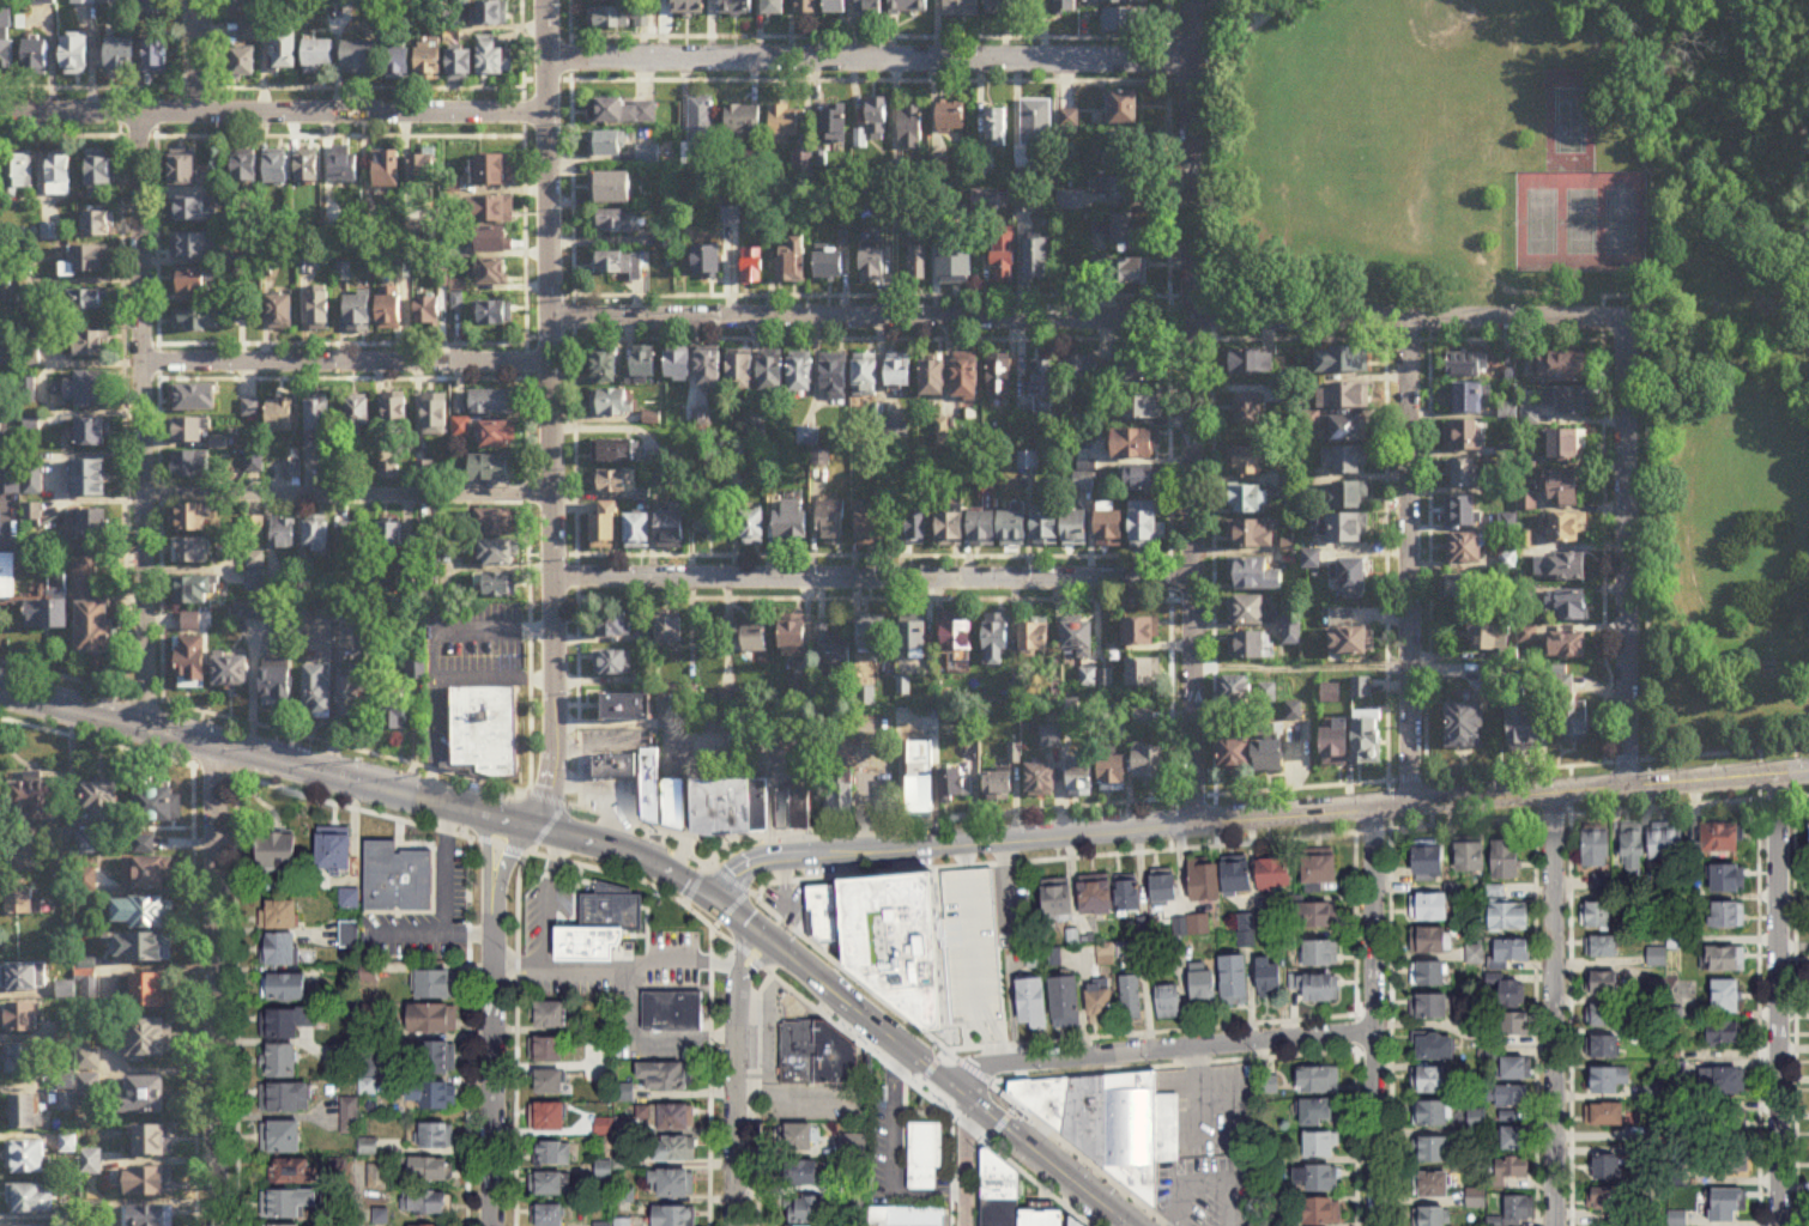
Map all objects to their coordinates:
building: (612, 1)
building: (1124, 1)
building: (41, 2)
road: (1247, 5)
building: (805, 6)
building: (834, 6)
building: (867, 6)
building: (907, 6)
building: (1065, 6)
road: (1212, 6)
building: (155, 7)
building: (686, 7)
building: (734, 7)
building: (773, 7)
building: (960, 7)
building: (998, 7)
building: (491, 13)
building: (242, 17)
building: (617, 18)
building: (1124, 20)
road: (1259, 20)
park: (1453, 23)
road: (895, 36)
building: (284, 51)
building: (6, 55)
building: (121, 55)
building: (155, 55)
building: (36, 56)
building: (77, 56)
road: (193, 56)
building: (319, 57)
building: (361, 60)
building: (494, 60)
road: (867, 60)
building: (429, 62)
building: (243, 63)
building: (398, 63)
building: (460, 66)
road: (866, 79)
building: (1125, 108)
road: (272, 111)
building: (621, 113)
building: (876, 116)
building: (950, 120)
building: (740, 122)
building: (784, 122)
park: (1568, 122)
building: (698, 123)
building: (1035, 123)
building: (833, 127)
building: (909, 127)
building: (996, 128)
road: (337, 135)
building: (857, 136)
building: (606, 145)
building: (1124, 150)
building: (799, 158)
building: (308, 169)
building: (345, 169)
building: (246, 170)
building: (277, 170)
building: (18, 171)
building: (182, 171)
building: (387, 171)
building: (491, 171)
building: (423, 172)
building: (59, 176)
building: (101, 177)
building: (612, 188)
building: (1117, 189)
building: (1070, 201)
building: (1024, 202)
building: (192, 211)
building: (489, 211)
building: (727, 213)
park: (1539, 224)
park: (1579, 224)
park: (1620, 224)
building: (97, 225)
building: (617, 226)
building: (1126, 229)
building: (840, 237)
building: (494, 241)
building: (194, 248)
building: (955, 255)
building: (1004, 255)
building: (86, 261)
building: (1037, 261)
building: (791, 262)
building: (916, 262)
building: (619, 265)
building: (703, 265)
building: (828, 265)
building: (872, 265)
park: (1568, 267)
building: (751, 268)
building: (1121, 272)
building: (492, 274)
building: (194, 283)
road: (890, 295)
road: (1623, 296)
building: (2, 301)
building: (84, 301)
building: (389, 309)
building: (319, 310)
building: (280, 312)
building: (358, 312)
building: (428, 312)
building: (494, 314)
road: (1083, 318)
building: (198, 320)
road: (1061, 338)
road: (339, 344)
building: (87, 346)
road: (343, 360)
building: (1341, 362)
building: (1250, 363)
building: (1466, 365)
building: (642, 366)
building: (679, 366)
building: (1563, 368)
building: (603, 369)
building: (1081, 369)
building: (708, 370)
building: (1137, 370)
building: (900, 371)
building: (740, 372)
building: (772, 372)
building: (801, 376)
building: (865, 377)
building: (999, 377)
road: (340, 378)
building: (835, 378)
building: (933, 378)
building: (967, 378)
building: (1043, 388)
building: (79, 393)
road: (525, 396)
road: (1211, 396)
building: (1344, 396)
building: (194, 397)
building: (1469, 399)
building: (1571, 401)
road: (571, 402)
building: (492, 403)
building: (610, 403)
building: (1138, 407)
road: (1190, 409)
building: (1250, 411)
building: (394, 413)
road: (549, 413)
building: (358, 414)
building: (279, 415)
road: (157, 417)
building: (435, 417)
building: (1530, 417)
road: (139, 421)
road: (1168, 423)
building: (319, 424)
building: (461, 429)
building: (1347, 430)
building: (188, 431)
building: (92, 433)
building: (497, 436)
building: (1464, 436)
building: (1136, 445)
building: (1566, 447)
building: (616, 451)
building: (1345, 461)
building: (1247, 462)
building: (190, 466)
building: (491, 469)
building: (387, 472)
building: (423, 472)
building: (1465, 473)
building: (89, 480)
building: (1141, 480)
building: (10, 481)
building: (612, 484)
building: (1083, 484)
building: (1289, 485)
building: (1566, 488)
road: (345, 493)
building: (1347, 496)
building: (1247, 500)
building: (1526, 502)
building: (1460, 512)
building: (189, 518)
building: (709, 521)
road: (1, 523)
building: (496, 523)
building: (793, 523)
building: (833, 524)
building: (915, 526)
building: (605, 527)
building: (1146, 527)
road: (1646, 527)
building: (253, 528)
building: (671, 528)
building: (754, 528)
building: (872, 528)
building: (1344, 528)
building: (89, 529)
building: (1046, 529)
building: (1077, 529)
building: (1111, 529)
building: (1565, 529)
road: (1603, 529)
building: (952, 530)
building: (984, 530)
building: (1014, 530)
building: (639, 532)
building: (429, 533)
building: (283, 534)
building: (1252, 534)
building: (316, 535)
building: (389, 536)
building: (352, 540)
building: (1466, 548)
building: (190, 552)
road: (1625, 553)
building: (497, 554)
road: (848, 554)
road: (1429, 558)
road: (1408, 560)
building: (254, 562)
building: (1562, 568)
road: (871, 577)
building: (1257, 577)
building: (1354, 577)
building: (254, 583)
building: (495, 585)
building: (1465, 587)
building: (194, 591)
road: (894, 597)
building: (1568, 605)
building: (49, 607)
building: (248, 611)
building: (1246, 612)
building: (90, 613)
building: (611, 625)
building: (670, 630)
building: (1290, 632)
building: (1141, 633)
building: (1493, 635)
building: (957, 636)
building: (792, 637)
building: (756, 638)
building: (873, 638)
building: (913, 639)
building: (1034, 639)
building: (1078, 639)
building: (1351, 641)
building: (997, 644)
building: (829, 645)
building: (1569, 645)
building: (1247, 647)
road: (431, 654)
building: (193, 662)
building: (612, 663)
road: (1385, 670)
building: (230, 673)
building: (1142, 674)
building: (278, 685)
building: (1361, 688)
building: (1238, 692)
building: (319, 693)
building: (1330, 694)
building: (355, 696)
building: (628, 708)
building: (1143, 718)
building: (394, 720)
building: (1577, 722)
building: (1464, 724)
building: (997, 727)
building: (483, 728)
building: (1525, 729)
road: (678, 735)
road: (194, 736)
building: (1368, 738)
road: (431, 739)
building: (1337, 745)
road: (224, 748)
road: (594, 748)
building: (1236, 757)
building: (1271, 757)
building: (613, 765)
building: (1154, 767)
building: (1115, 775)
building: (920, 779)
building: (1042, 782)
building: (648, 783)
building: (1083, 784)
building: (954, 785)
building: (1000, 788)
road: (1569, 789)
road: (609, 795)
building: (672, 801)
building: (840, 801)
building: (35, 802)
building: (102, 803)
building: (757, 805)
building: (720, 806)
building: (156, 807)
building: (782, 808)
building: (800, 808)
road: (1253, 814)
road: (894, 818)
road: (546, 824)
building: (1722, 836)
building: (85, 844)
road: (605, 844)
building: (1668, 844)
road: (526, 848)
building: (1598, 849)
building: (278, 851)
building: (334, 851)
building: (1634, 852)
road: (486, 854)
building: (1471, 856)
road: (507, 858)
building: (1506, 858)
building: (1429, 860)
road: (703, 866)
road: (716, 867)
building: (1321, 869)
road: (830, 873)
building: (1276, 873)
building: (147, 875)
building: (399, 876)
road: (1005, 878)
building: (1240, 878)
building: (1730, 878)
road: (587, 879)
building: (1206, 882)
building: (1166, 890)
road: (549, 896)
traffic signals: (716, 896)
building: (1129, 896)
building: (1097, 898)
road: (785, 899)
building: (1060, 900)
road: (446, 903)
building: (19, 904)
road: (730, 905)
building: (610, 906)
building: (1434, 906)
building: (821, 910)
road: (574, 912)
building: (1509, 914)
building: (1730, 914)
building: (144, 915)
building: (282, 915)
building: (1318, 915)
building: (1598, 915)
road: (839, 918)
building: (1193, 924)
road: (468, 929)
road: (646, 931)
road: (633, 933)
road: (763, 935)
building: (896, 939)
road: (1355, 939)
building: (1432, 939)
building: (1603, 945)
building: (143, 949)
building: (282, 949)
building: (1513, 949)
building: (1321, 953)
road: (739, 954)
building: (1726, 959)
road: (754, 963)
road: (621, 964)
building: (1429, 973)
building: (25, 978)
building: (1271, 978)
building: (1236, 979)
building: (436, 982)
building: (1604, 982)
road: (214, 985)
building: (1204, 985)
building: (1317, 987)
building: (288, 988)
building: (146, 993)
building: (1512, 994)
building: (1728, 995)
building: (1132, 996)
road: (1779, 999)
road: (846, 1000)
building: (1067, 1001)
building: (1168, 1001)
building: (1034, 1003)
road: (1373, 1003)
building: (1102, 1005)
building: (1430, 1006)
road: (1553, 1008)
building: (673, 1010)
building: (1608, 1014)
building: (552, 1015)
road: (1373, 1015)
building: (434, 1018)
building: (25, 1019)
building: (285, 1022)
building: (1518, 1026)
building: (1725, 1032)
road: (648, 1033)
road: (515, 1036)
building: (150, 1040)
road: (1157, 1045)
building: (1435, 1046)
building: (1607, 1046)
building: (549, 1049)
building: (798, 1050)
building: (835, 1055)
building: (436, 1057)
building: (23, 1060)
building: (283, 1061)
road: (491, 1062)
road: (1170, 1062)
building: (1517, 1068)
road: (975, 1070)
road: (709, 1074)
building: (667, 1075)
building: (1609, 1079)
building: (1319, 1080)
building: (1430, 1080)
building: (1724, 1080)
building: (550, 1081)
building: (432, 1094)
road: (758, 1095)
building: (144, 1097)
building: (1043, 1097)
building: (1514, 1097)
building: (285, 1098)
road: (736, 1107)
road: (903, 1110)
road: (991, 1112)
building: (1318, 1112)
building: (28, 1113)
building: (1434, 1113)
building: (1605, 1113)
building: (665, 1116)
building: (547, 1117)
building: (1731, 1123)
building: (1125, 1125)
building: (437, 1135)
building: (280, 1136)
building: (795, 1136)
road: (1021, 1137)
building: (1517, 1137)
building: (152, 1142)
building: (1323, 1145)
building: (674, 1148)
building: (1432, 1148)
building: (922, 1151)
building: (552, 1153)
road: (894, 1153)
building: (26, 1158)
building: (1729, 1160)
road: (967, 1163)
building: (1608, 1166)
building: (1514, 1167)
building: (429, 1169)
road: (951, 1169)
building: (290, 1171)
building: (803, 1172)
building: (1319, 1177)
building: (146, 1183)
building: (547, 1183)
building: (673, 1183)
building: (1432, 1184)
building: (999, 1190)
building: (1604, 1197)
building: (31, 1198)
building: (289, 1202)
building: (425, 1202)
building: (1520, 1207)
building: (809, 1209)
building: (1728, 1209)
building: (1320, 1212)
road: (352, 1214)
building: (549, 1215)
building: (673, 1215)
building: (903, 1215)
building: (151, 1216)
building: (1432, 1216)
building: (1041, 1218)
building: (1073, 1220)
building: (283, 1225)
building: (432, 1225)
building: (623, 1225)
building: (805, 1225)

